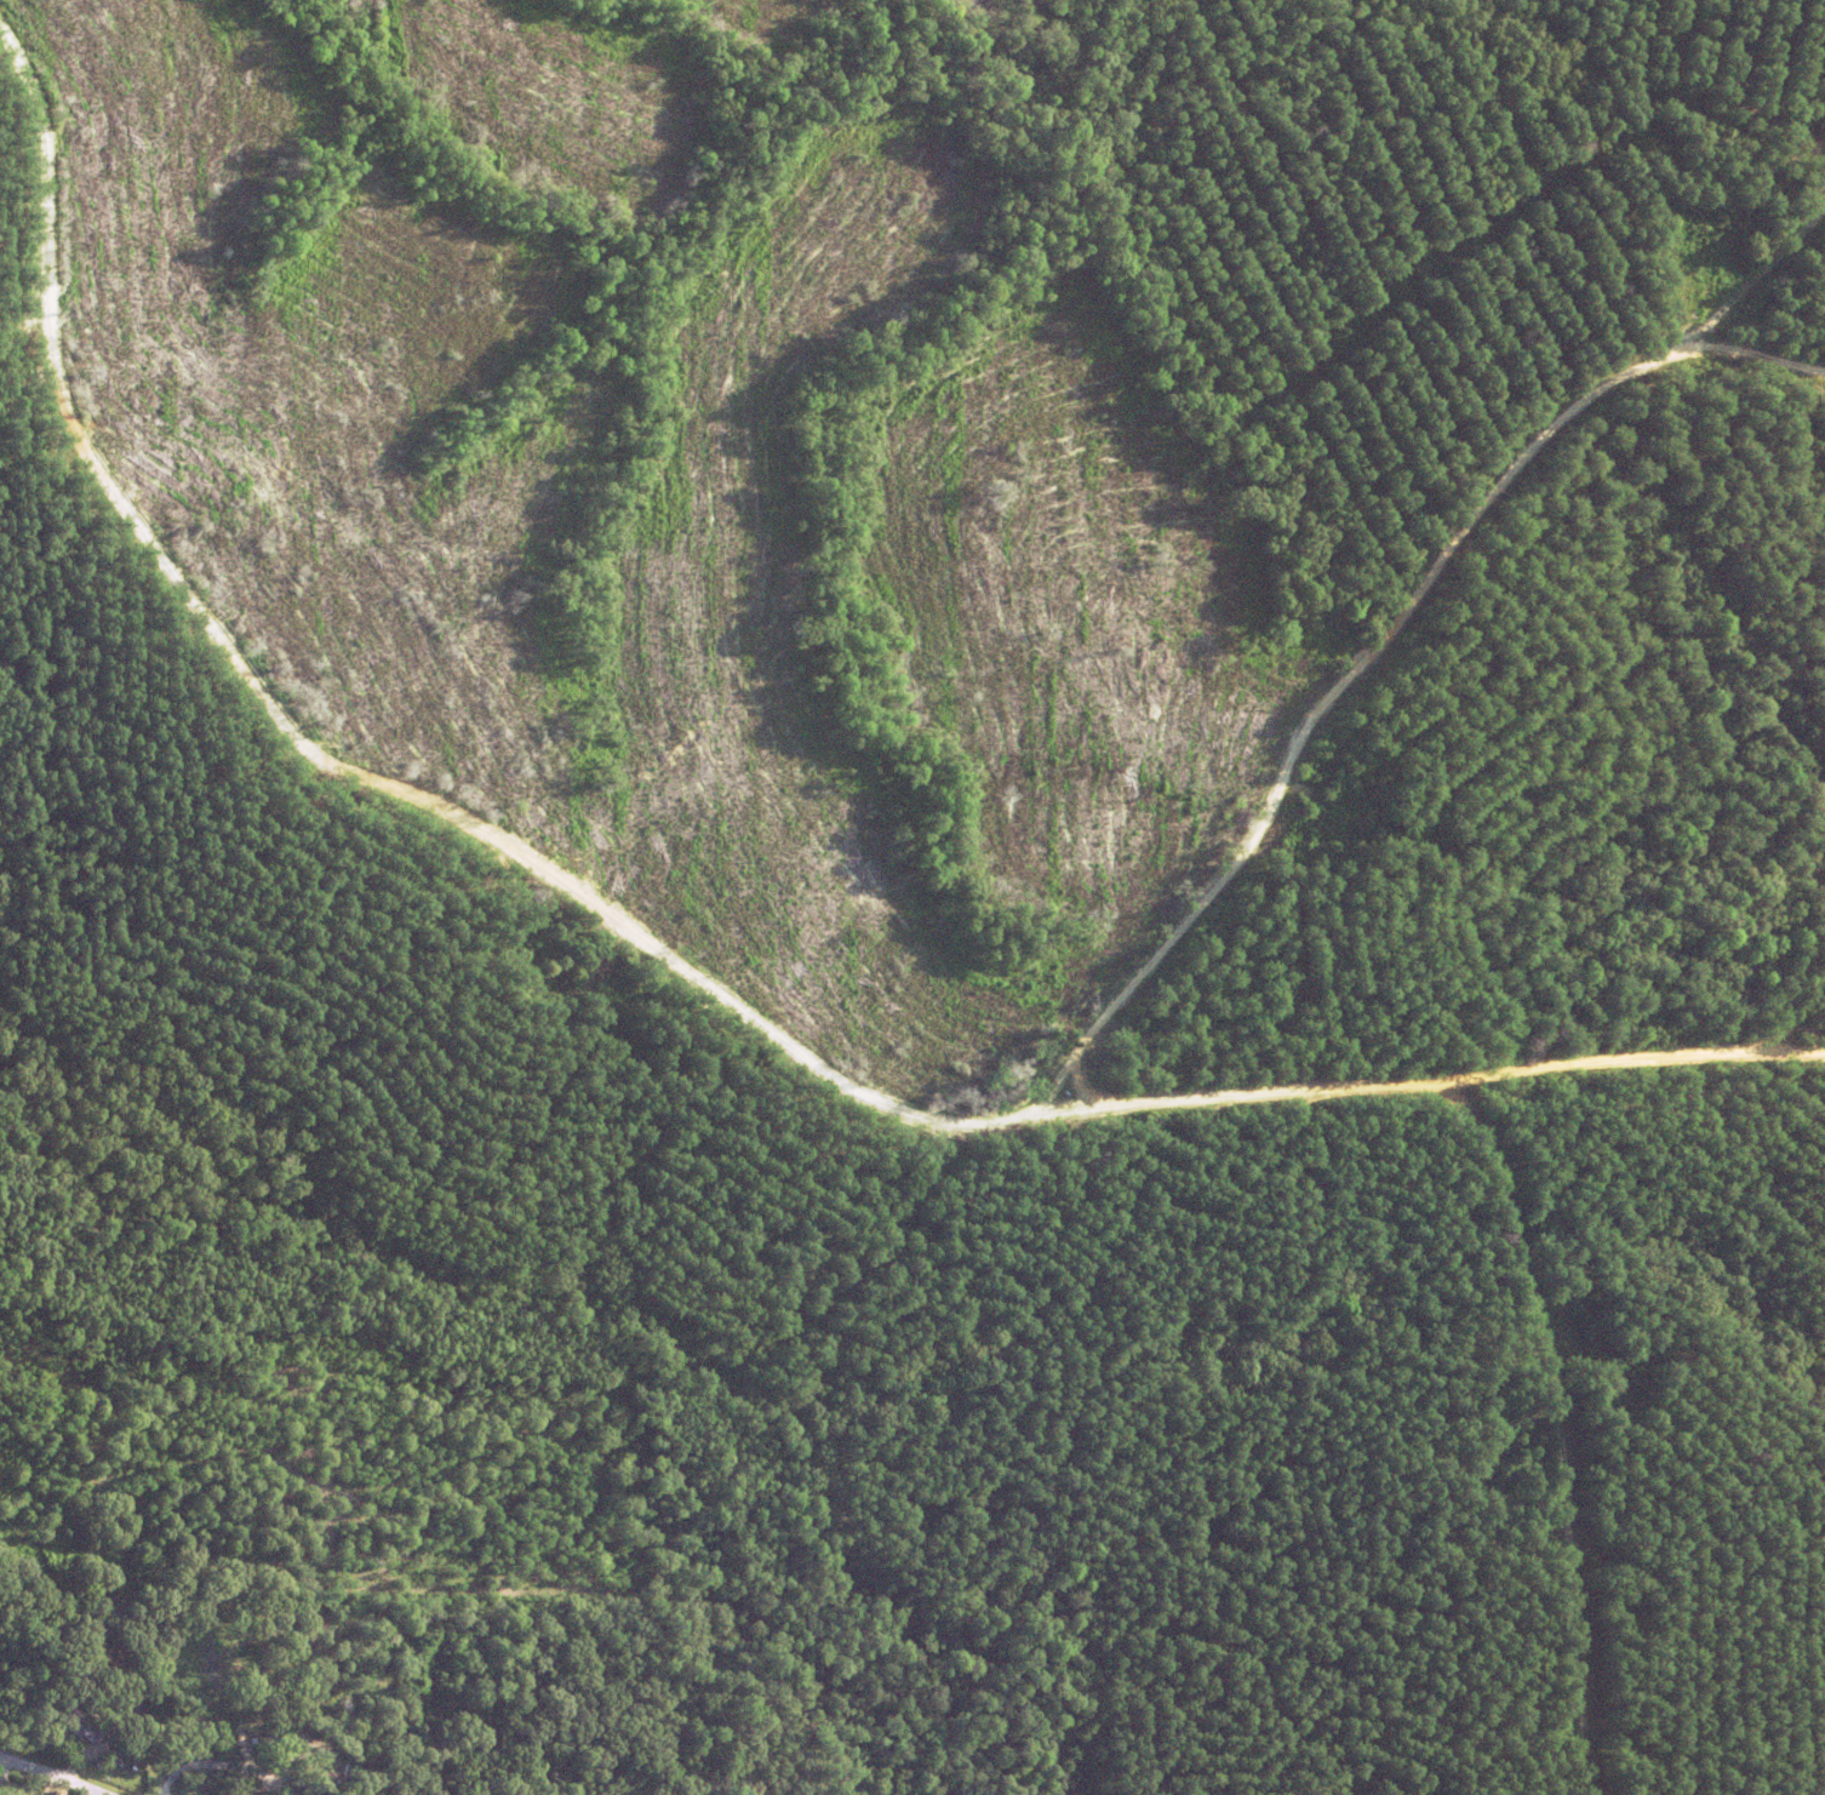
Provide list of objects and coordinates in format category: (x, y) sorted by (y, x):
road: (1379, 652)
road: (321, 736)
road: (1430, 1082)
building: (196, 1636)
building: (8, 1647)
building: (246, 1658)
road: (153, 1720)
building: (79, 1722)
road: (48, 1777)
building: (214, 1788)

